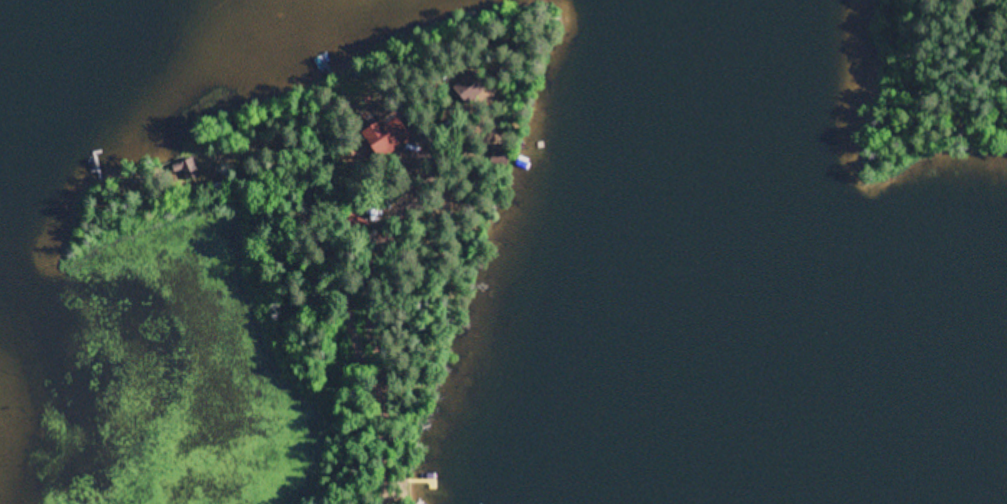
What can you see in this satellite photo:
building: (488, 88)
road: (390, 437)

